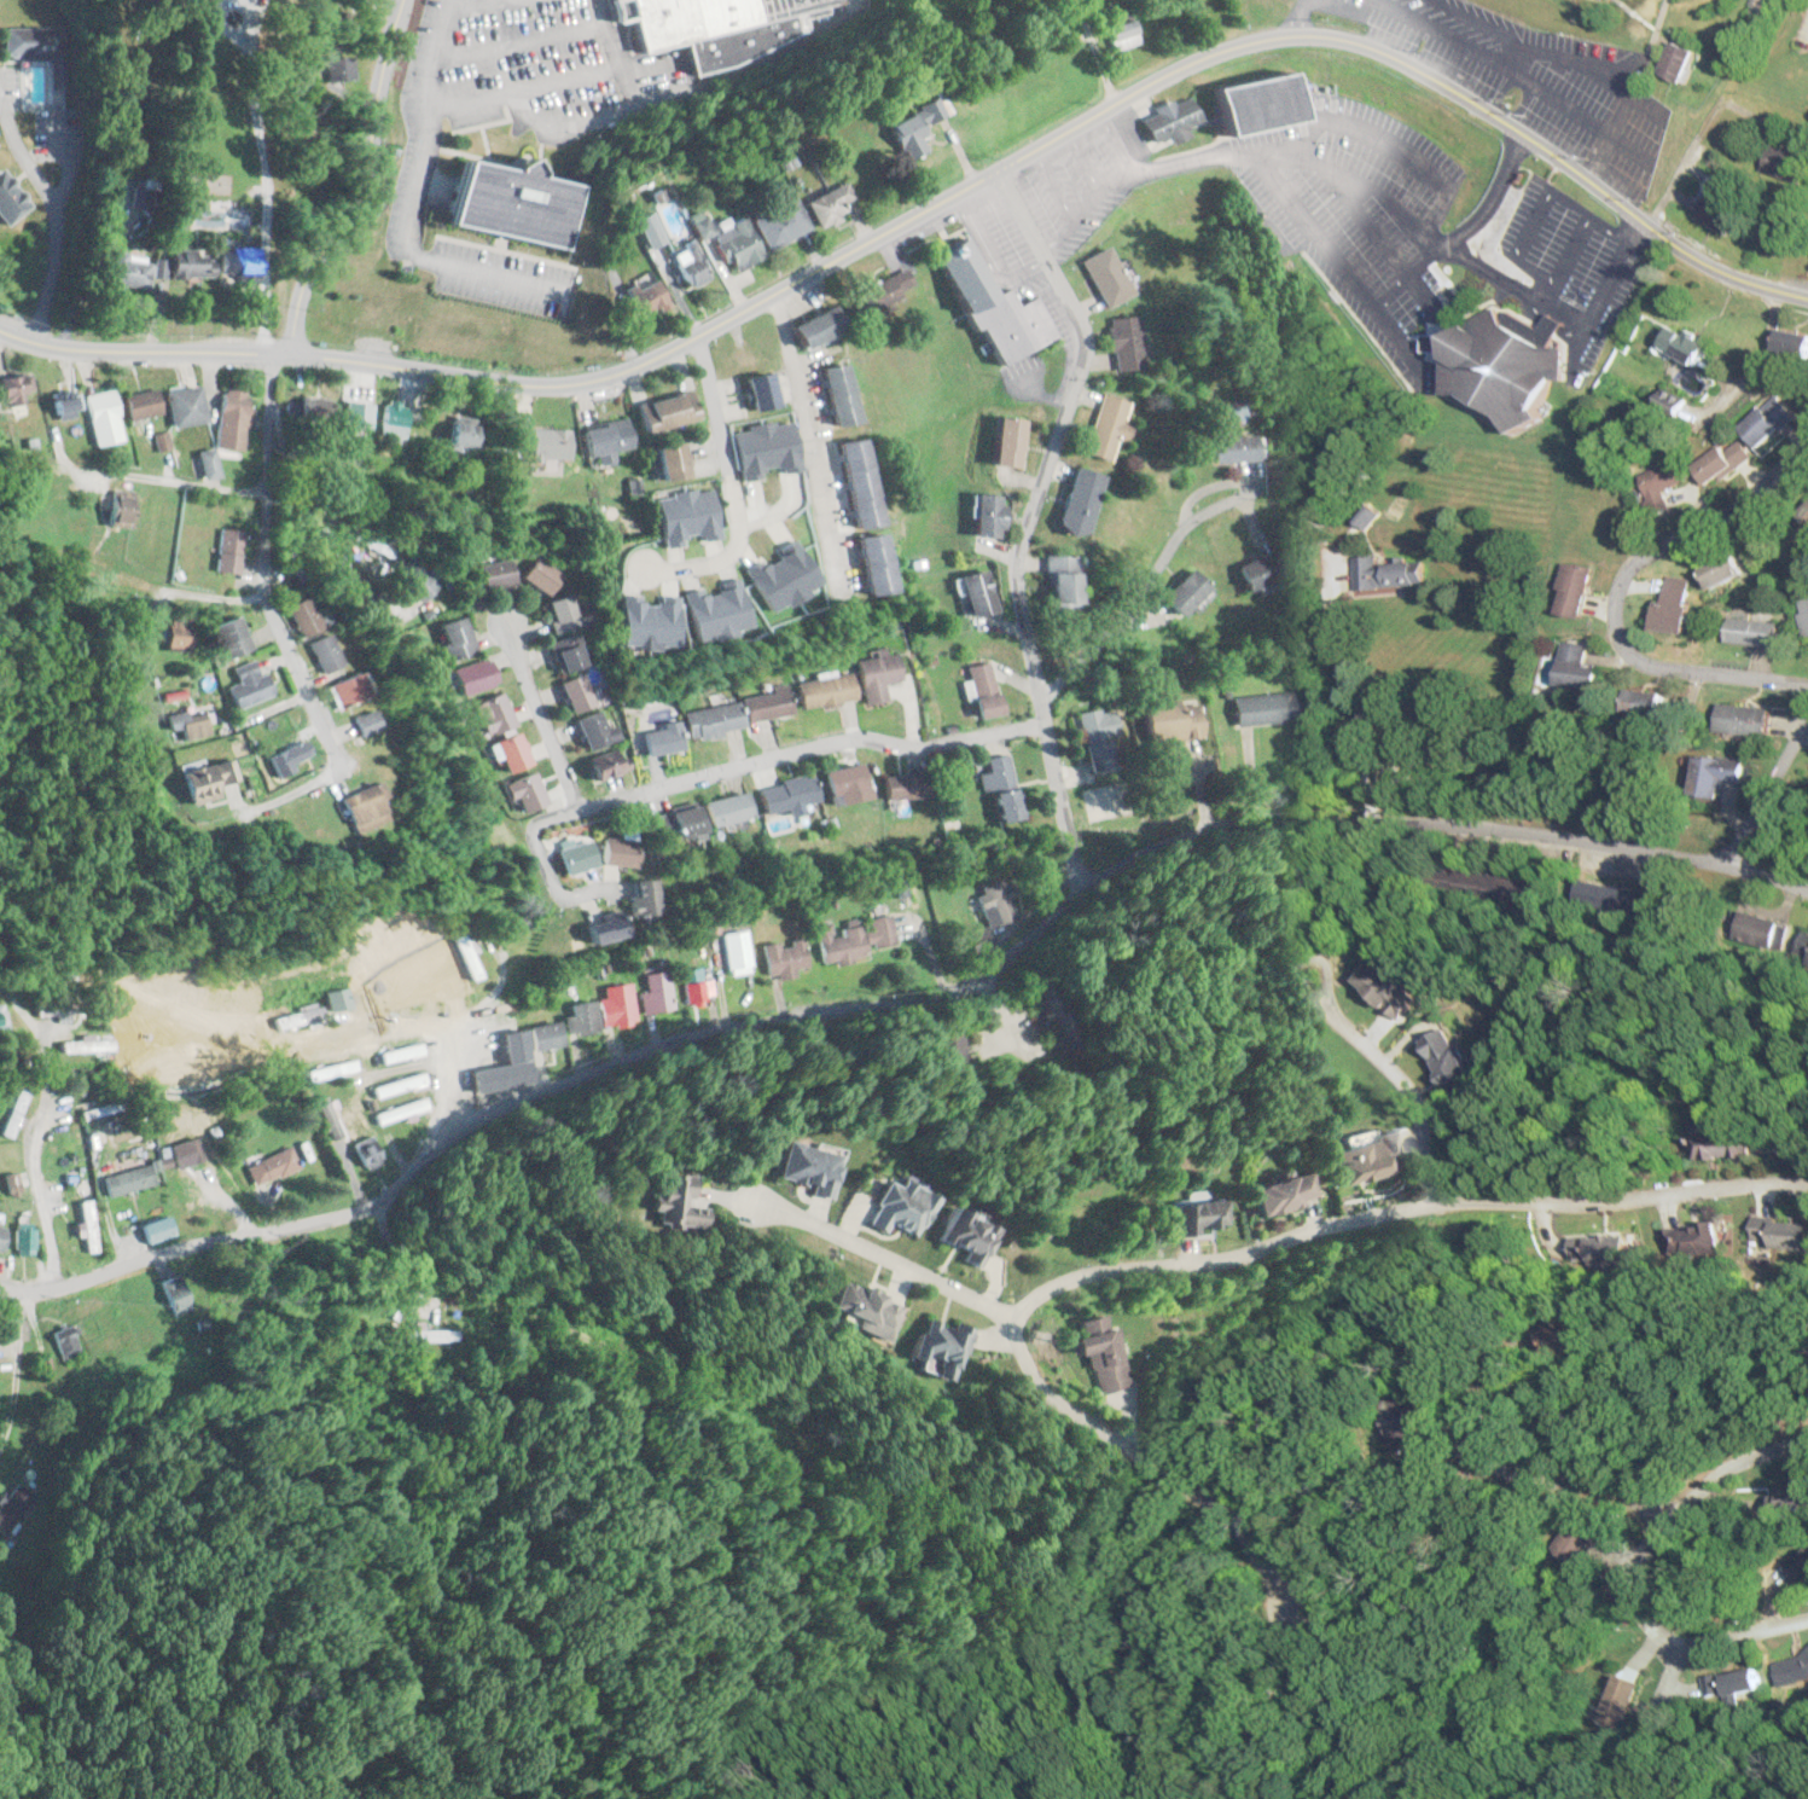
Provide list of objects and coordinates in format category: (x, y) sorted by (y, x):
road: (1344, 5)
building: (1754, 10)
road: (1295, 16)
road: (1477, 21)
building: (1117, 33)
building: (31, 42)
road: (1511, 57)
building: (1673, 58)
road: (1597, 69)
road: (1516, 74)
parking lot: (1527, 77)
building: (1250, 101)
road: (1617, 112)
building: (1163, 116)
building: (909, 128)
road: (1111, 141)
road: (1391, 145)
road: (1597, 156)
road: (1080, 159)
road: (1176, 161)
building: (1779, 163)
road: (1342, 173)
parking lot: (1079, 178)
road: (258, 181)
road: (359, 182)
road: (1050, 184)
road: (936, 199)
road: (1540, 199)
building: (5, 201)
building: (507, 203)
building: (825, 205)
road: (1081, 205)
parking lot: (1356, 215)
building: (1713, 215)
road: (51, 219)
building: (777, 224)
building: (647, 230)
road: (1460, 230)
road: (981, 231)
building: (734, 244)
parking lot: (996, 250)
road: (983, 257)
road: (1563, 257)
parking lot: (1569, 262)
building: (688, 265)
building: (175, 266)
building: (1103, 277)
road: (1511, 284)
road: (1599, 290)
building: (883, 294)
road: (771, 295)
building: (646, 298)
building: (988, 302)
road: (1530, 307)
road: (1548, 323)
building: (810, 326)
road: (1570, 327)
building: (1121, 342)
building: (1676, 344)
building: (1787, 347)
road: (1406, 352)
building: (1501, 362)
parking lot: (1021, 373)
road: (1414, 375)
building: (12, 388)
building: (751, 391)
road: (1037, 393)
building: (833, 394)
road: (709, 402)
building: (135, 404)
building: (179, 405)
road: (267, 406)
building: (58, 407)
building: (661, 411)
building: (227, 416)
building: (95, 417)
building: (388, 418)
building: (1762, 423)
building: (1101, 429)
building: (452, 435)
building: (601, 437)
building: (1004, 442)
building: (539, 443)
road: (806, 446)
building: (1232, 447)
building: (664, 462)
building: (1716, 463)
building: (202, 464)
building: (848, 483)
building: (767, 494)
building: (1070, 504)
building: (114, 510)
building: (984, 515)
road: (1023, 517)
building: (1803, 517)
road: (298, 529)
building: (222, 551)
road: (723, 553)
building: (862, 564)
road: (261, 569)
building: (1257, 571)
building: (1717, 571)
building: (492, 574)
building: (1386, 574)
building: (540, 575)
building: (415, 580)
building: (1056, 580)
road: (1143, 581)
road: (1614, 588)
building: (1570, 591)
building: (973, 593)
building: (1181, 593)
building: (1670, 607)
building: (1803, 614)
building: (296, 616)
building: (563, 616)
building: (1750, 632)
building: (173, 634)
building: (225, 634)
building: (453, 638)
building: (318, 652)
building: (564, 656)
building: (1572, 668)
building: (871, 675)
building: (472, 677)
building: (245, 685)
building: (343, 690)
building: (981, 690)
building: (820, 691)
building: (575, 694)
building: (760, 704)
building: (1643, 704)
building: (1262, 708)
building: (489, 714)
building: (707, 720)
building: (1172, 721)
building: (1740, 721)
building: (362, 722)
building: (187, 724)
building: (592, 730)
building: (1098, 737)
building: (656, 738)
road: (837, 739)
building: (507, 753)
building: (284, 758)
building: (601, 764)
building: (993, 772)
building: (1713, 774)
building: (203, 780)
building: (839, 785)
building: (894, 788)
road: (1768, 789)
building: (523, 793)
building: (781, 795)
road: (571, 799)
road: (607, 800)
building: (1001, 806)
building: (356, 808)
building: (720, 809)
building: (669, 824)
building: (616, 852)
building: (574, 858)
road: (1768, 880)
building: (638, 898)
building: (994, 904)
building: (599, 929)
building: (855, 939)
building: (981, 939)
building: (736, 952)
building: (783, 956)
road: (1297, 956)
building: (466, 957)
building: (1807, 963)
building: (1380, 988)
building: (693, 990)
building: (657, 992)
building: (333, 1000)
road: (862, 1000)
building: (616, 1005)
building: (298, 1019)
building: (580, 1019)
building: (1, 1025)
building: (542, 1035)
building: (85, 1046)
building: (400, 1054)
building: (1443, 1060)
building: (502, 1067)
building: (330, 1070)
road: (457, 1081)
building: (397, 1085)
road: (1406, 1085)
building: (338, 1105)
building: (13, 1113)
building: (1717, 1144)
building: (366, 1151)
building: (178, 1154)
building: (1365, 1159)
building: (271, 1166)
building: (802, 1166)
building: (128, 1179)
building: (1280, 1192)
building: (662, 1200)
building: (886, 1207)
building: (1198, 1214)
building: (87, 1225)
building: (156, 1229)
building: (1773, 1232)
building: (963, 1236)
building: (1, 1237)
building: (1684, 1238)
building: (22, 1240)
building: (1609, 1241)
road: (1258, 1243)
building: (176, 1295)
building: (859, 1308)
building: (437, 1335)
building: (68, 1341)
building: (932, 1346)
building: (1100, 1352)
road: (1471, 1370)
building: (1388, 1421)
road: (1147, 1456)
road: (1554, 1479)
building: (14, 1507)
building: (1571, 1540)
building: (1795, 1561)
road: (1629, 1562)
building: (1795, 1671)
building: (1737, 1683)
building: (1626, 1698)

